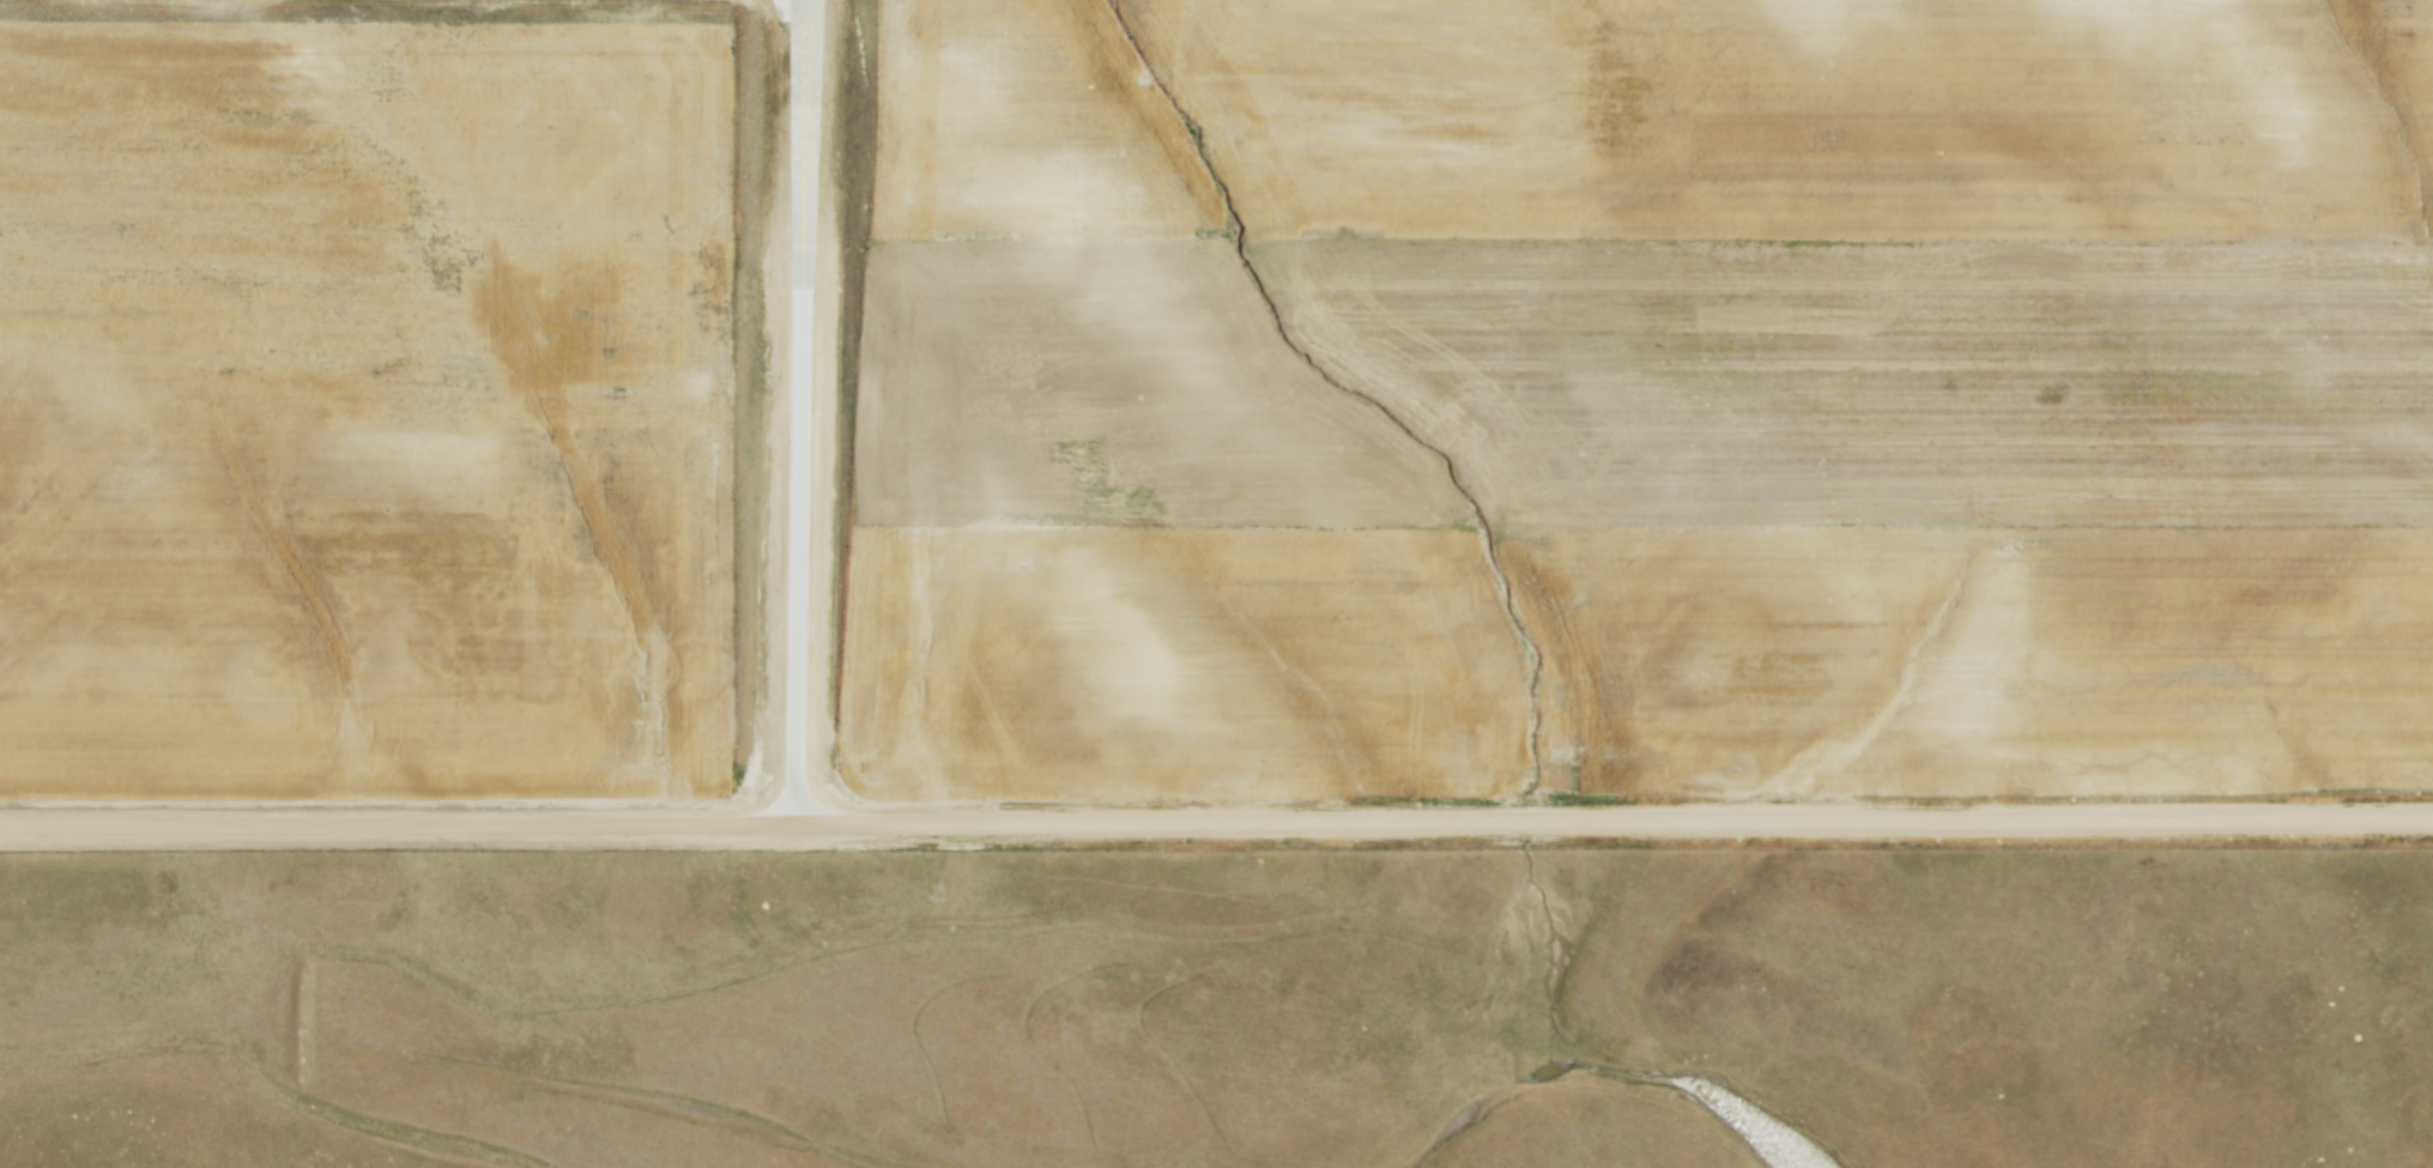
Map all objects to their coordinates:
road: (793, 150)
crop: (1641, 400)
crop: (369, 401)
road: (786, 565)
road: (1216, 828)

